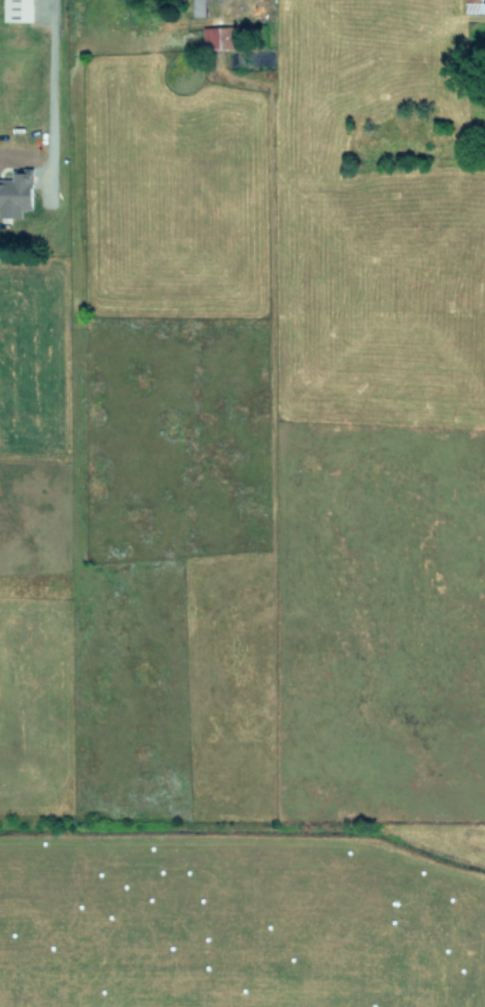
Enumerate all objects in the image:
building: (199, 7)
building: (18, 10)
building: (221, 36)
road: (46, 88)
building: (16, 192)

